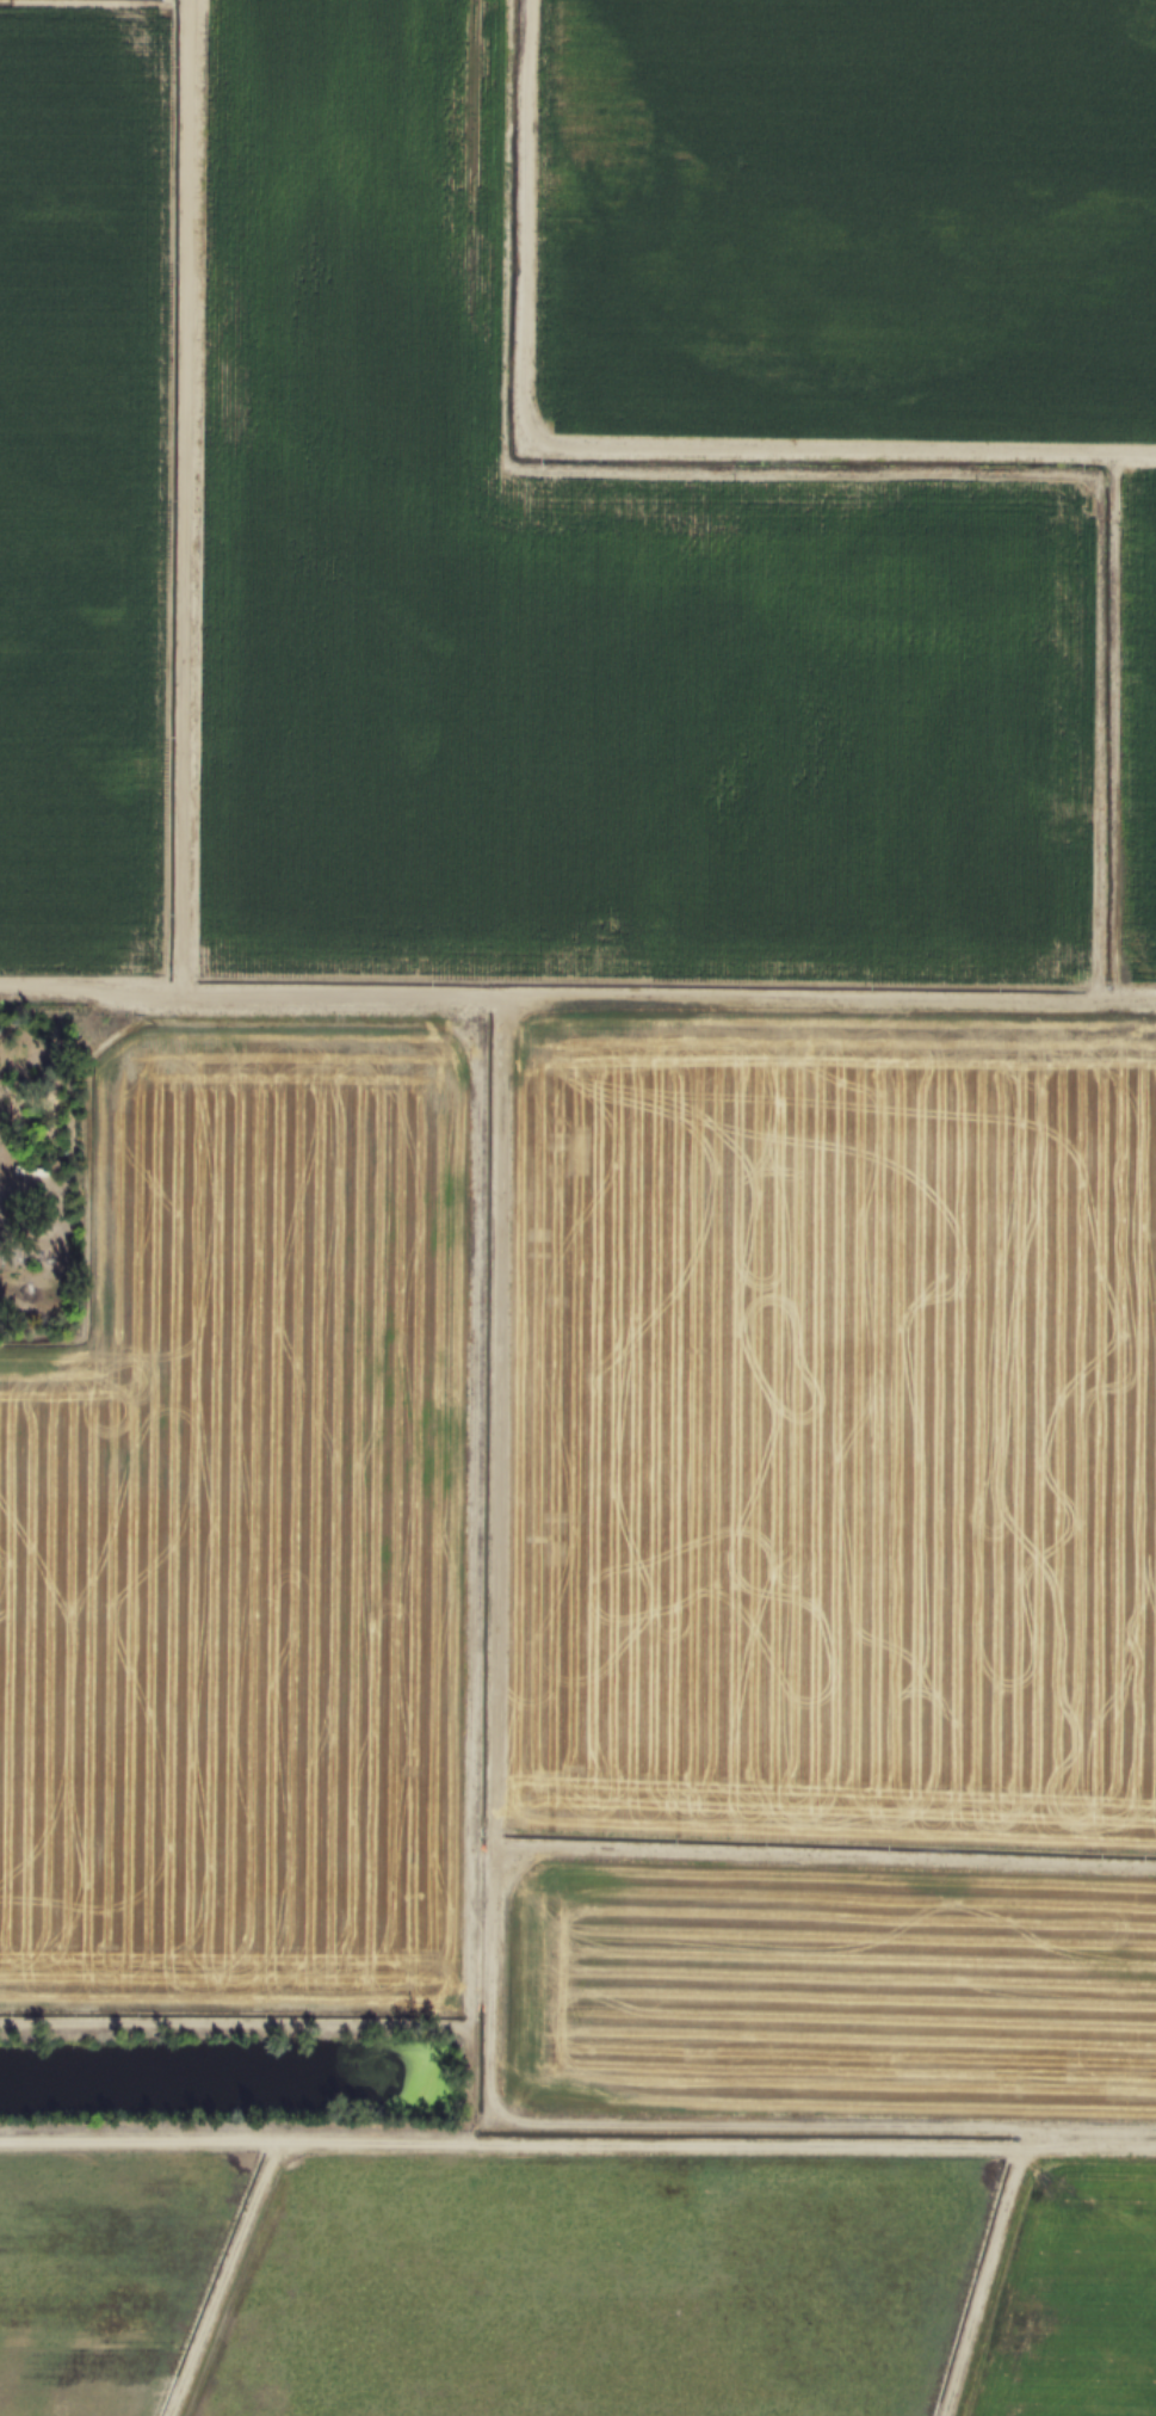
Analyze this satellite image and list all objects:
road: (91, 993)
road: (63, 1042)

